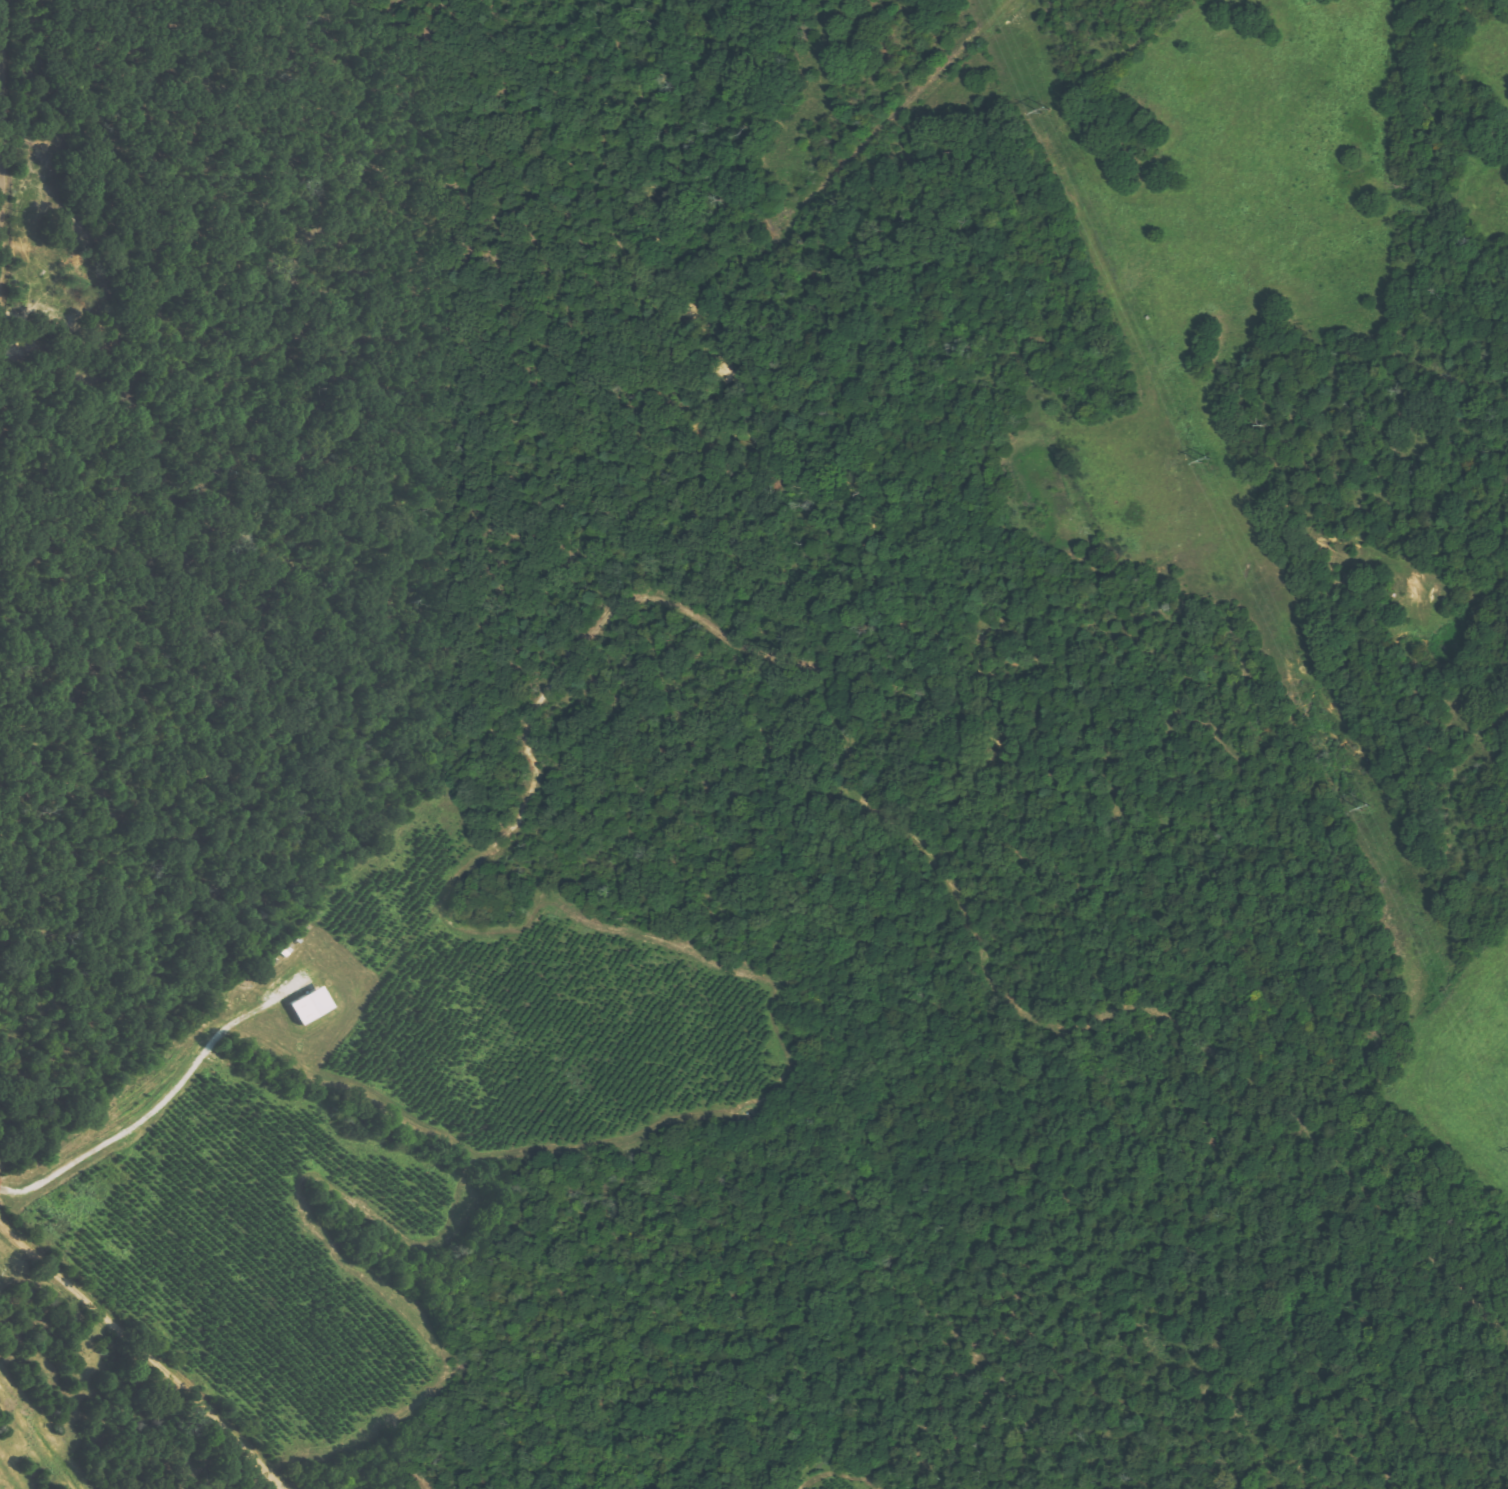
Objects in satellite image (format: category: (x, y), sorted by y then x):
road: (5, 112)
building: (313, 1007)
road: (164, 1340)

